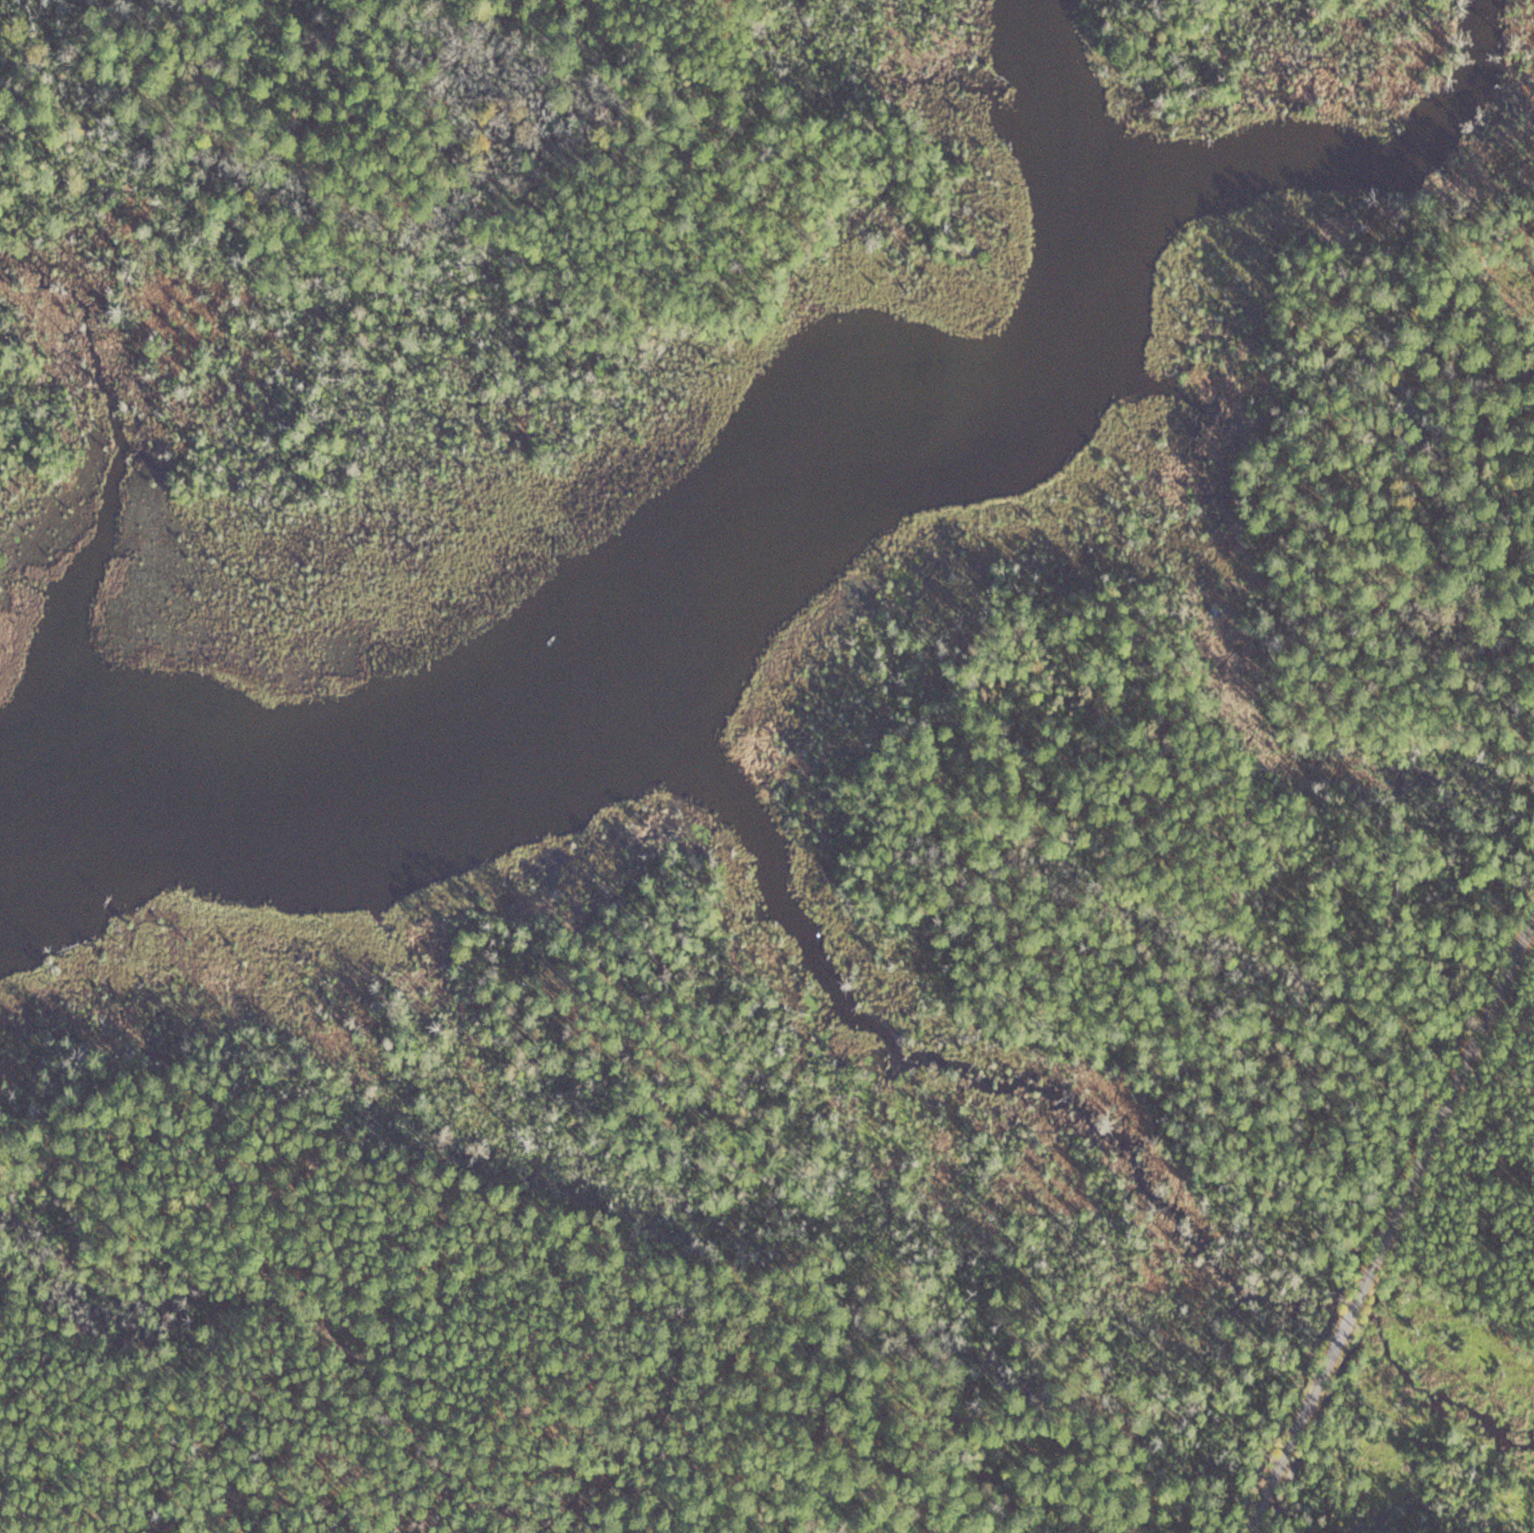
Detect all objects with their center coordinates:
road: (1392, 1225)

